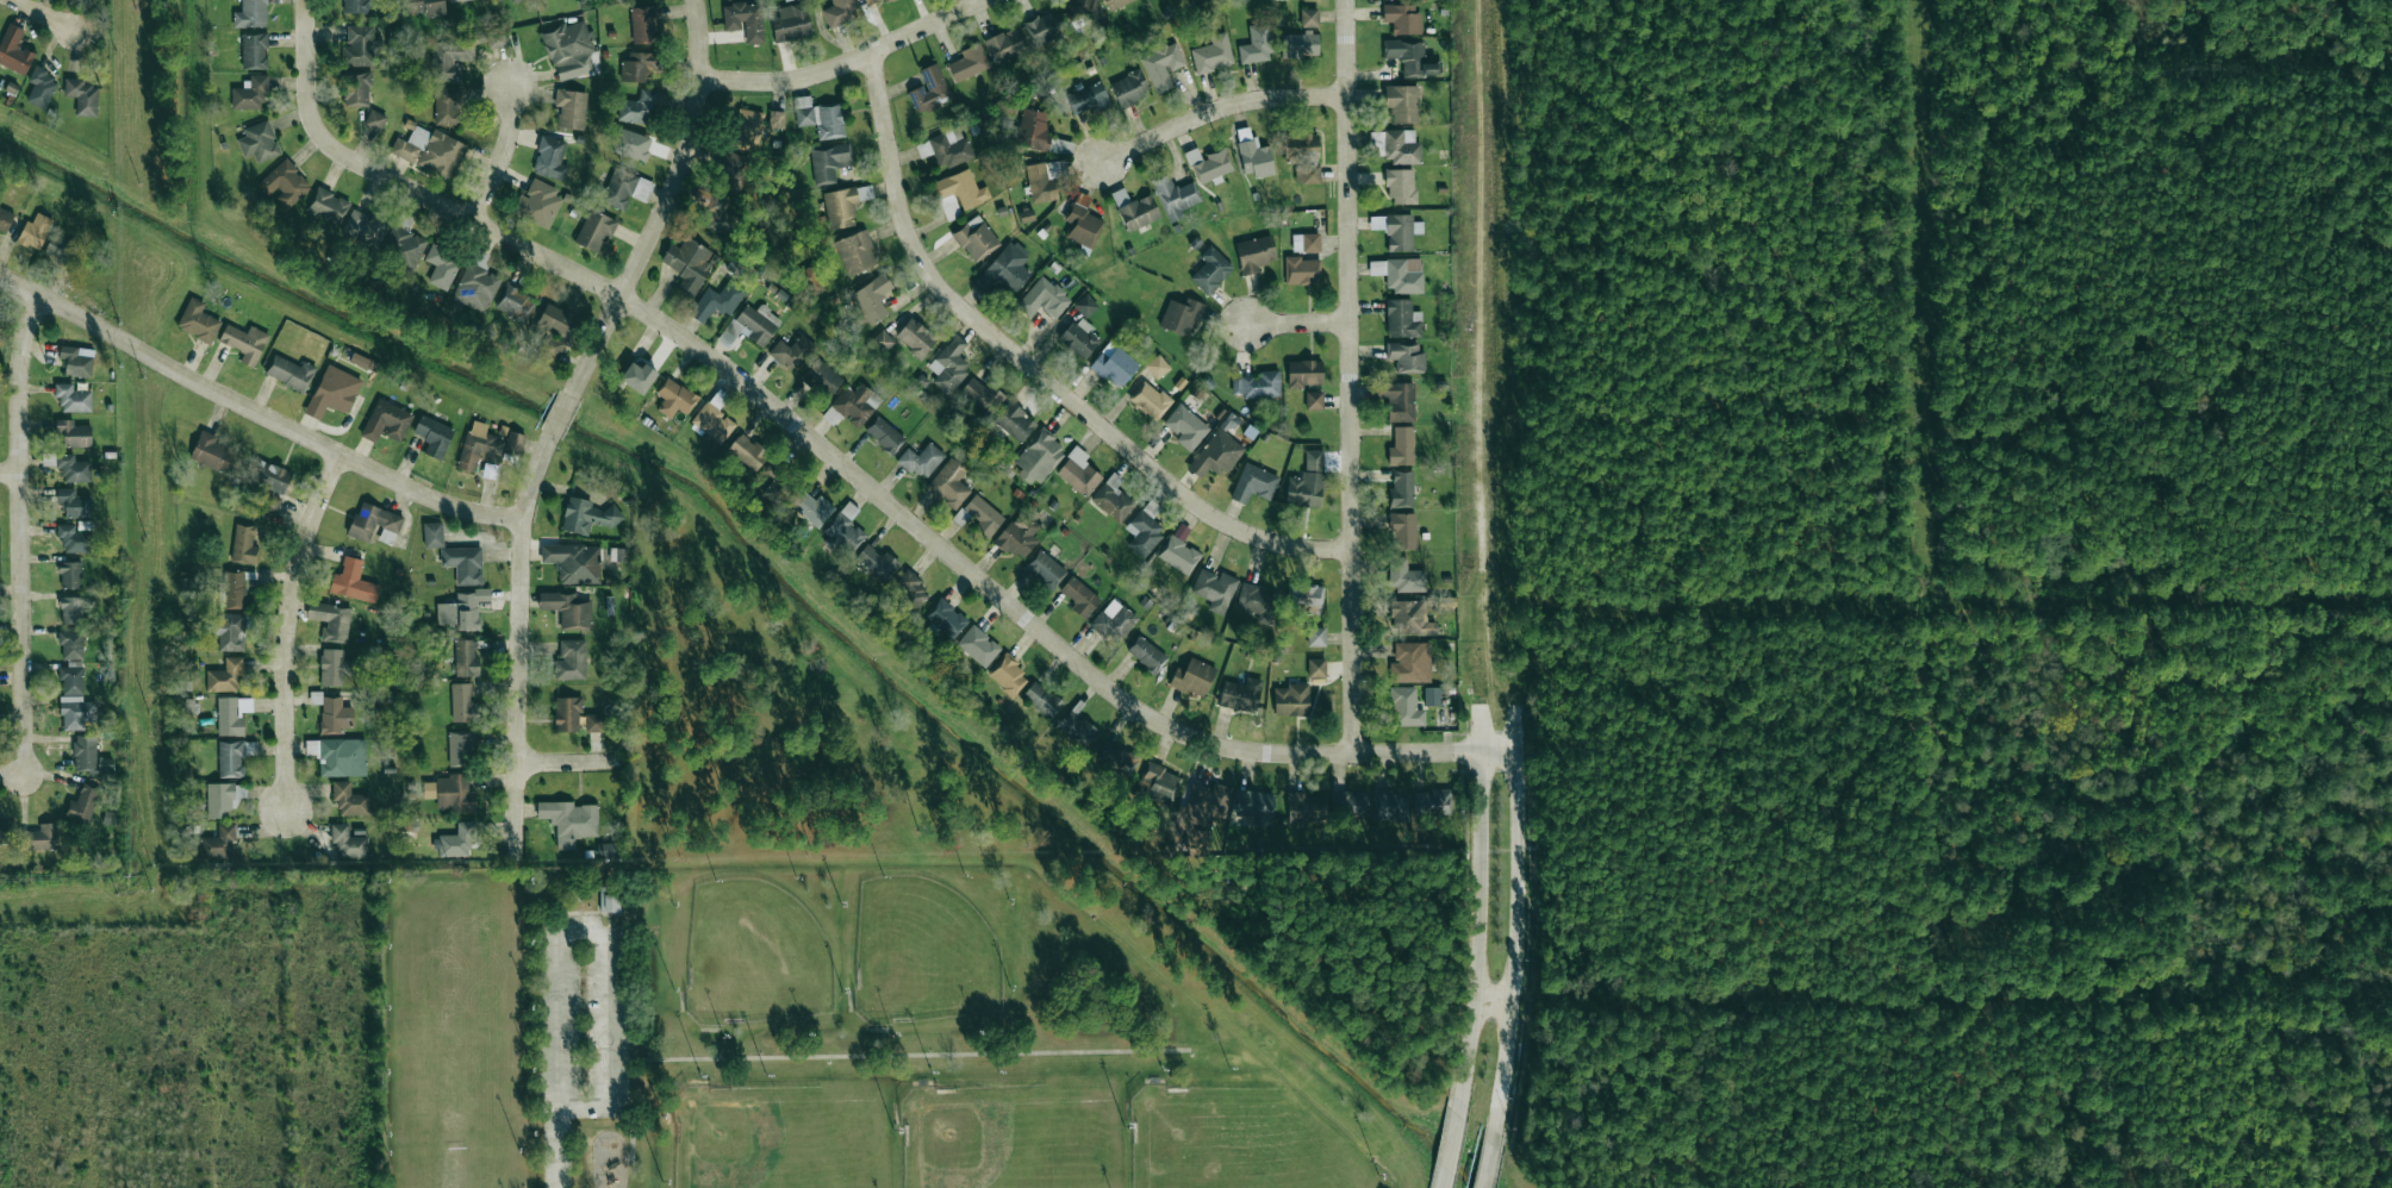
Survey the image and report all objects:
building: (457, 0)
building: (513, 0)
building: (871, 2)
building: (1114, 4)
building: (355, 6)
building: (426, 7)
building: (839, 12)
building: (1085, 12)
road: (45, 14)
building: (250, 14)
building: (1308, 17)
building: (1401, 18)
building: (743, 19)
building: (791, 21)
building: (643, 24)
building: (1023, 37)
building: (496, 38)
building: (1256, 44)
building: (1298, 44)
building: (360, 45)
building: (568, 49)
building: (14, 50)
building: (254, 50)
building: (1211, 54)
building: (449, 57)
building: (1409, 57)
road: (848, 61)
building: (967, 62)
road: (304, 64)
building: (1161, 65)
building: (636, 67)
building: (39, 87)
building: (1129, 87)
building: (356, 88)
building: (929, 89)
building: (249, 93)
building: (81, 95)
building: (1088, 98)
building: (1402, 102)
building: (446, 105)
building: (639, 107)
building: (571, 108)
road: (1221, 111)
building: (818, 117)
building: (775, 119)
building: (374, 120)
building: (747, 129)
building: (1033, 129)
building: (258, 142)
building: (630, 143)
building: (949, 146)
building: (1400, 146)
building: (1064, 148)
building: (430, 150)
building: (1252, 154)
road: (500, 157)
building: (549, 158)
building: (828, 161)
building: (1208, 164)
building: (733, 169)
building: (1044, 179)
building: (284, 182)
building: (1401, 186)
building: (623, 187)
building: (961, 188)
building: (1175, 196)
building: (537, 202)
building: (843, 204)
building: (328, 205)
road: (665, 205)
building: (1134, 210)
building: (5, 219)
building: (1083, 224)
building: (360, 225)
building: (594, 230)
building: (1396, 230)
building: (33, 231)
building: (974, 237)
building: (1304, 242)
building: (403, 245)
building: (57, 248)
building: (854, 252)
building: (1254, 254)
building: (689, 264)
building: (441, 265)
building: (1004, 269)
building: (1210, 270)
building: (1301, 270)
building: (1399, 274)
road: (21, 287)
building: (475, 287)
building: (872, 298)
building: (1044, 298)
building: (716, 301)
building: (515, 302)
building: (1085, 305)
building: (1179, 315)
building: (1402, 318)
building: (555, 319)
building: (197, 320)
road: (1298, 323)
building: (750, 325)
building: (915, 337)
building: (1079, 338)
building: (244, 342)
building: (880, 342)
building: (553, 346)
building: (792, 351)
building: (1404, 356)
building: (76, 359)
building: (949, 364)
building: (1114, 364)
building: (1157, 365)
road: (1038, 369)
building: (289, 371)
building: (1304, 373)
building: (637, 375)
road: (1350, 375)
building: (822, 377)
building: (1256, 383)
building: (332, 390)
building: (982, 395)
building: (73, 398)
building: (673, 398)
building: (1314, 399)
building: (1150, 400)
building: (1397, 400)
building: (853, 404)
road: (560, 414)
building: (386, 421)
building: (1014, 421)
building: (711, 423)
road: (276, 424)
building: (1185, 426)
building: (73, 432)
building: (432, 434)
building: (884, 434)
building: (513, 442)
building: (479, 445)
building: (1401, 445)
building: (211, 451)
building: (746, 451)
building: (1215, 454)
building: (1038, 457)
building: (921, 459)
building: (69, 467)
road: (8, 471)
building: (1078, 471)
building: (268, 482)
building: (1307, 482)
building: (948, 483)
building: (1252, 483)
building: (777, 487)
building: (1401, 489)
building: (1111, 499)
building: (74, 502)
building: (811, 507)
road: (896, 509)
building: (587, 515)
building: (983, 515)
building: (374, 524)
building: (1402, 530)
building: (843, 531)
road: (19, 532)
building: (1142, 532)
building: (432, 534)
building: (74, 538)
building: (1016, 538)
building: (243, 545)
building: (617, 554)
building: (1177, 554)
building: (572, 561)
building: (877, 562)
building: (463, 563)
building: (1044, 569)
building: (69, 574)
building: (1404, 576)
building: (353, 581)
building: (231, 589)
building: (1214, 589)
building: (909, 592)
building: (1079, 596)
building: (1304, 598)
building: (1254, 599)
building: (70, 609)
building: (461, 609)
building: (567, 609)
building: (1409, 617)
building: (945, 619)
building: (330, 620)
building: (1114, 620)
road: (286, 629)
building: (229, 631)
building: (1315, 636)
building: (70, 643)
road: (517, 643)
building: (978, 645)
building: (1146, 654)
building: (465, 657)
building: (569, 659)
building: (1410, 662)
building: (332, 665)
building: (1315, 667)
building: (224, 675)
building: (1007, 675)
building: (1192, 676)
building: (71, 680)
building: (1240, 694)
building: (1431, 696)
building: (1042, 699)
building: (1290, 700)
building: (462, 702)
building: (1404, 707)
building: (76, 712)
building: (566, 713)
building: (231, 714)
building: (334, 714)
building: (593, 723)
building: (1077, 730)
building: (461, 748)
building: (88, 755)
building: (232, 756)
building: (342, 757)
building: (1116, 758)
road: (566, 762)
road: (12, 774)
building: (1157, 783)
building: (449, 793)
building: (349, 799)
building: (220, 800)
building: (1429, 801)
building: (1347, 802)
building: (81, 805)
building: (1304, 805)
building: (1390, 805)
building: (1252, 806)
building: (568, 820)
building: (5, 830)
building: (39, 837)
building: (457, 839)
building: (347, 842)
building: (218, 844)
building: (606, 850)
building: (609, 899)
road: (605, 933)
road: (1477, 933)
road: (1516, 944)
park: (923, 952)
park: (754, 953)
road: (1494, 1001)
parking lot: (606, 1015)
parking lot: (555, 1018)
park: (809, 1038)
road: (897, 1053)
road: (633, 1124)
park: (780, 1137)
park: (1009, 1137)
park: (1237, 1142)
road: (556, 1148)
road: (1450, 1150)
road: (1489, 1163)

